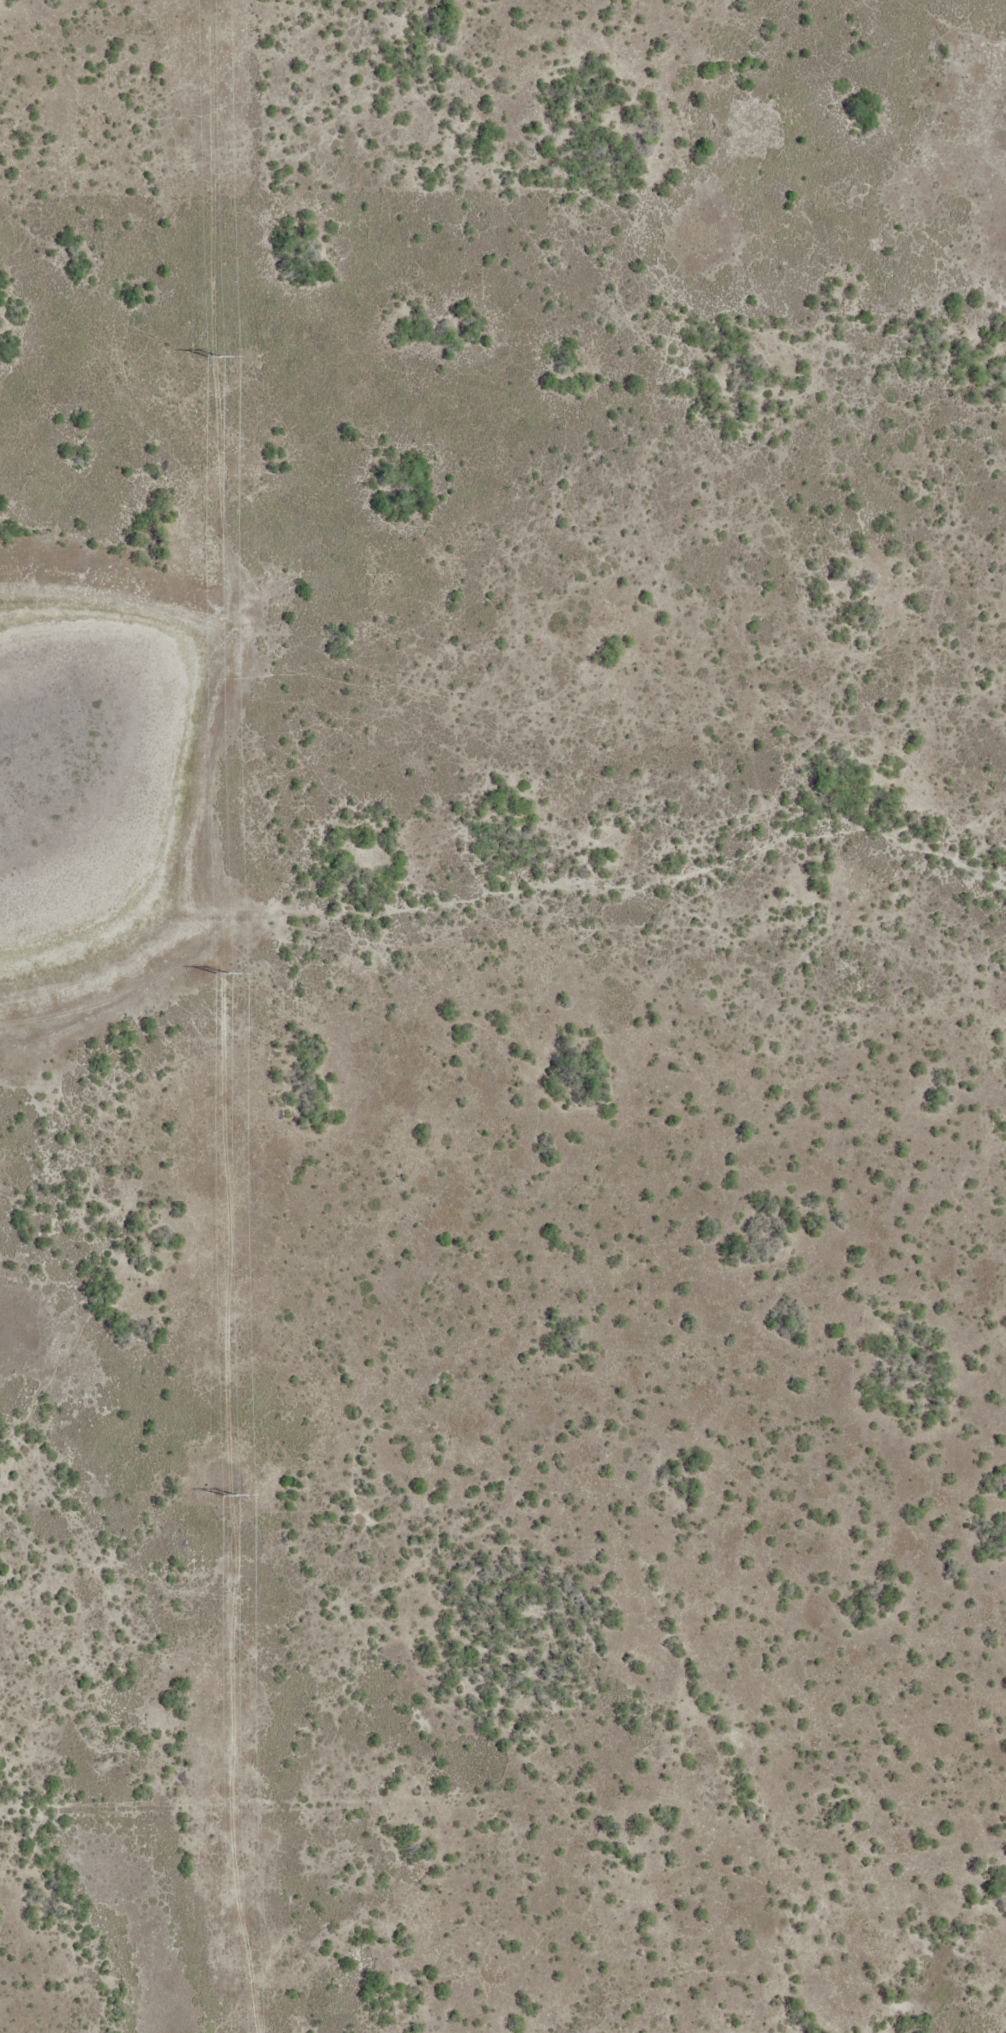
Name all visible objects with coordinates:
power tower: (216, 356)
power tower: (223, 970)
power tower: (231, 1495)

